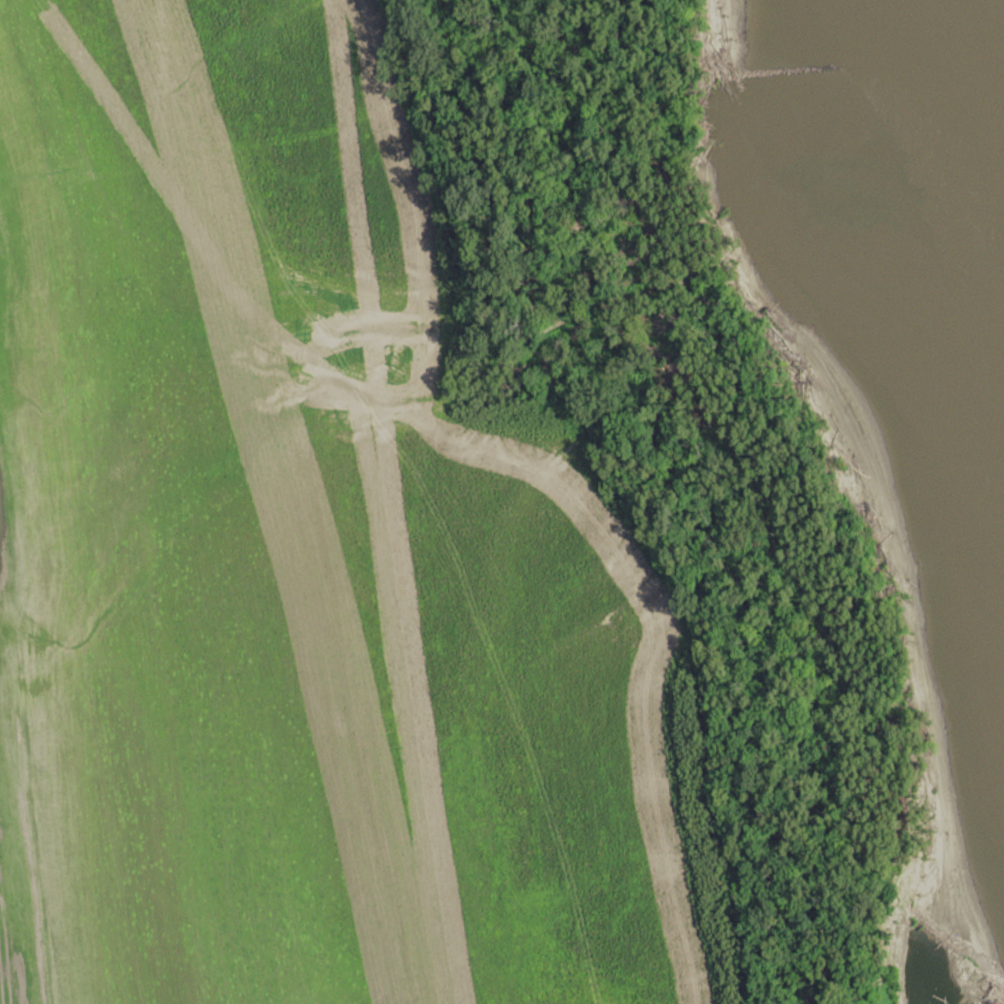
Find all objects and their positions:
crop: (301, 554)

